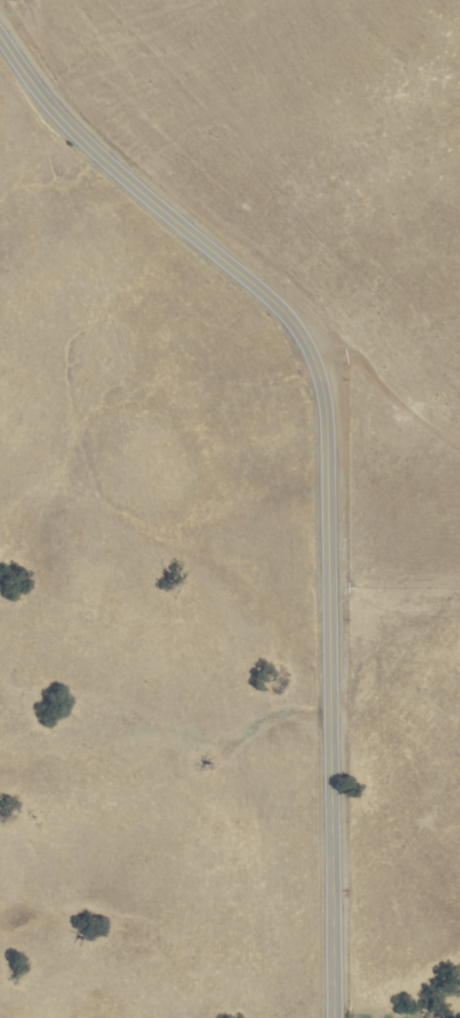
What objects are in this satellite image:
road: (387, 382)
road: (328, 465)
crop: (229, 507)
road: (396, 585)

